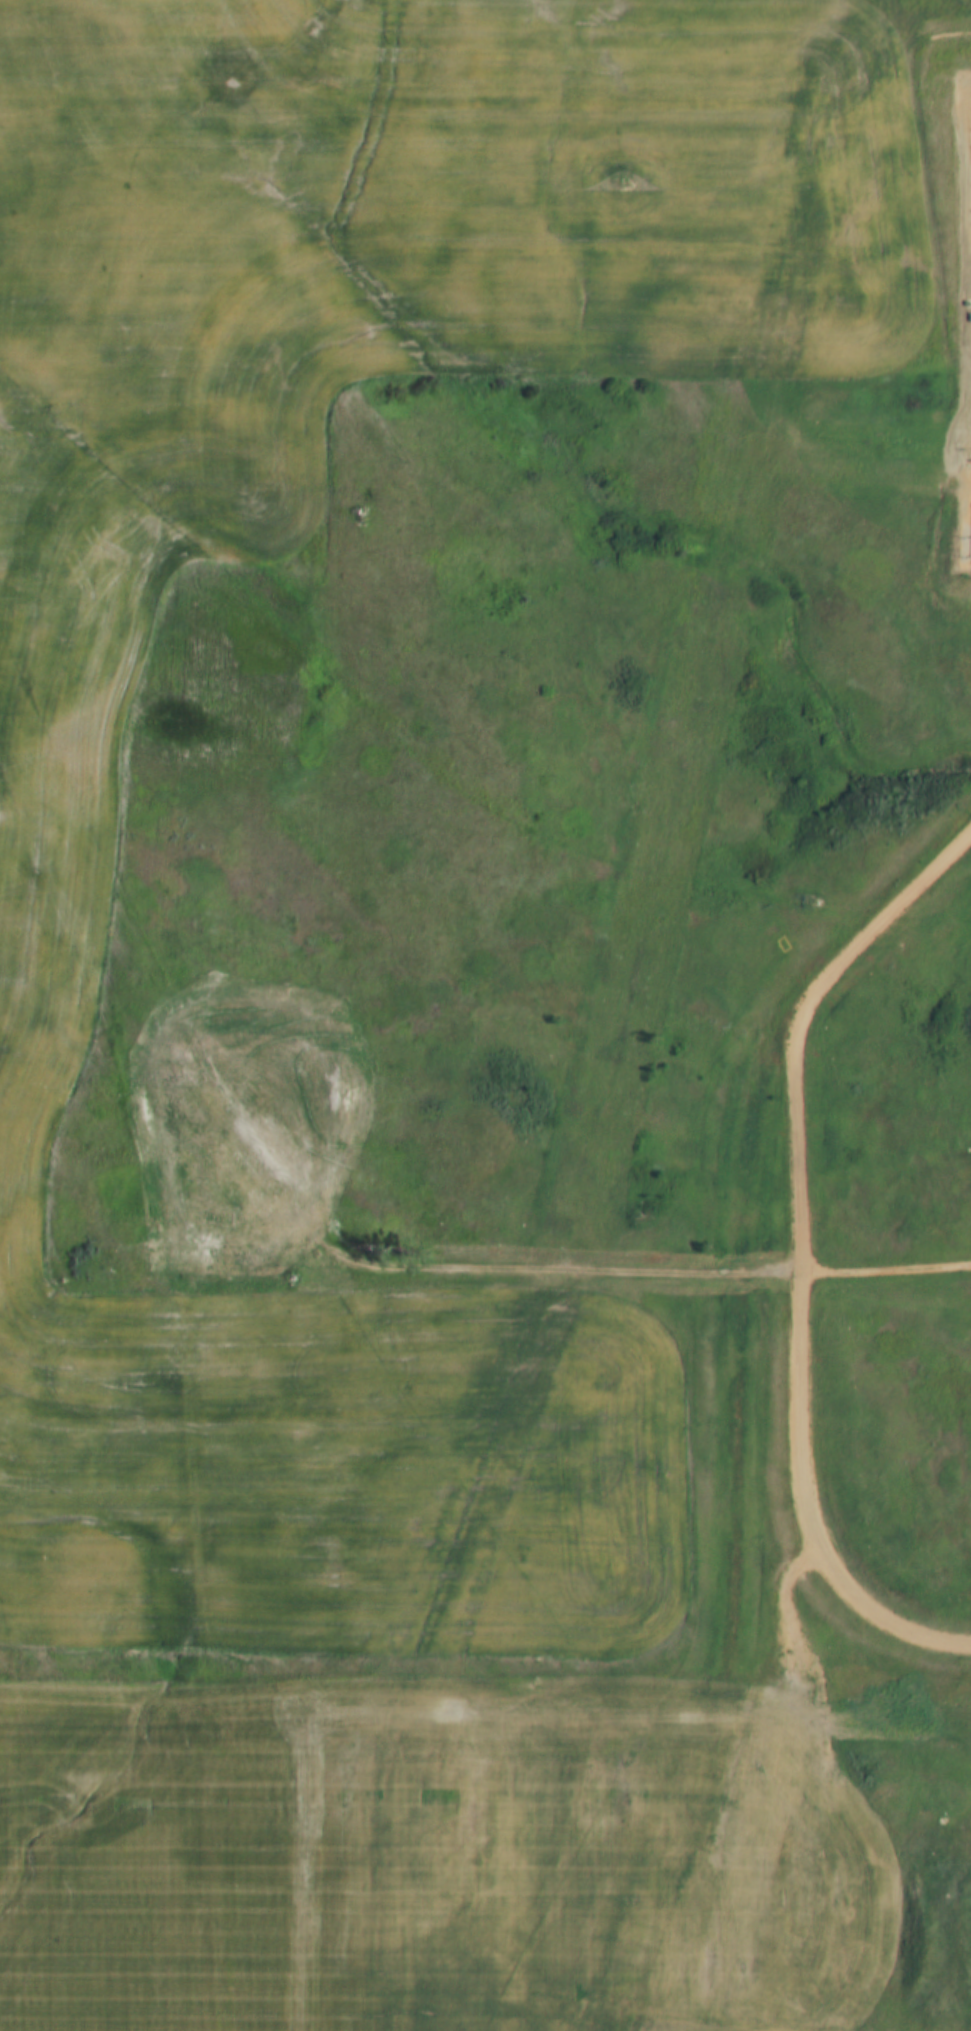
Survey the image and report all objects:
road: (795, 1016)
road: (857, 1276)

